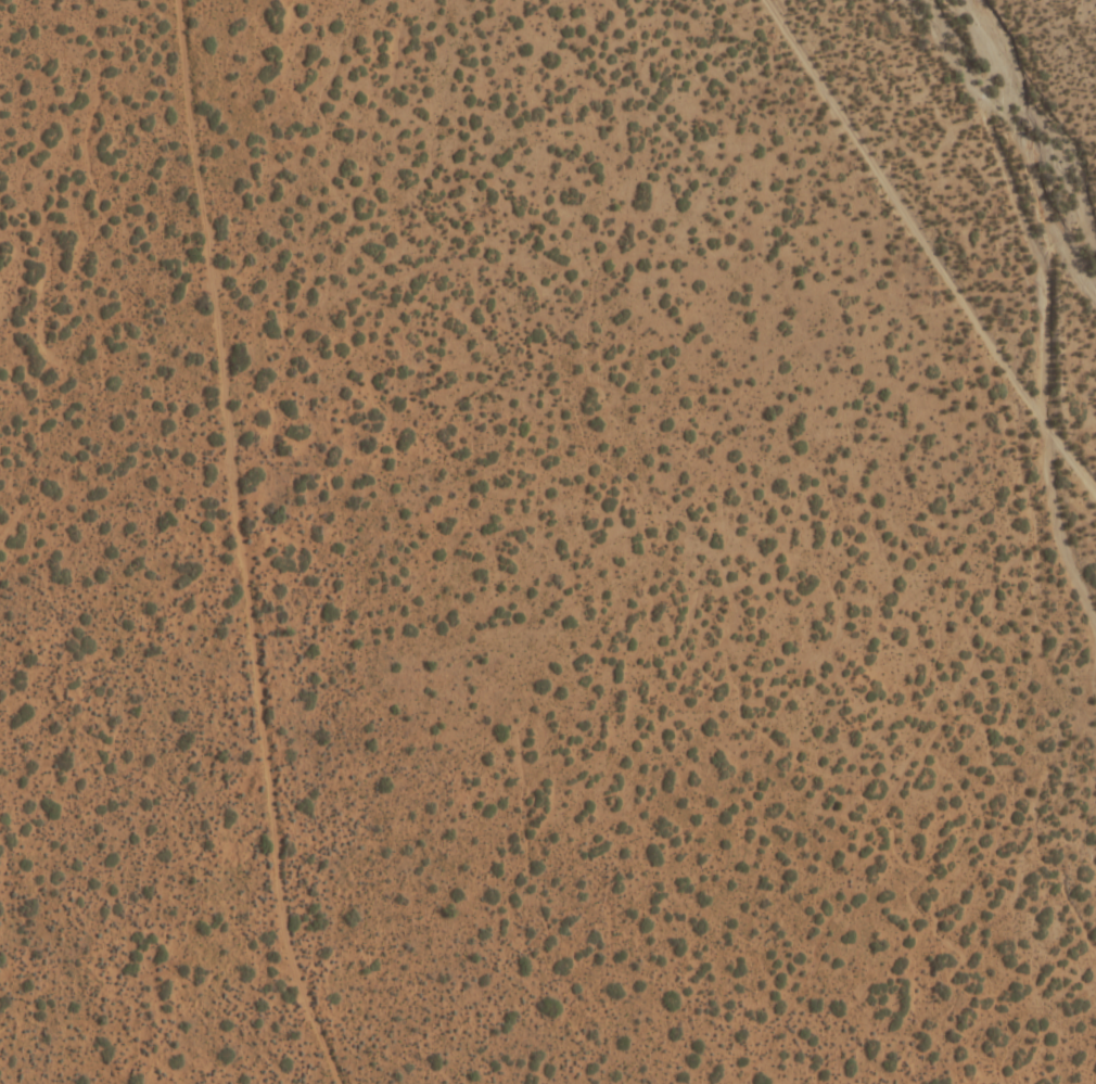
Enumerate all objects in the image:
road: (926, 247)

